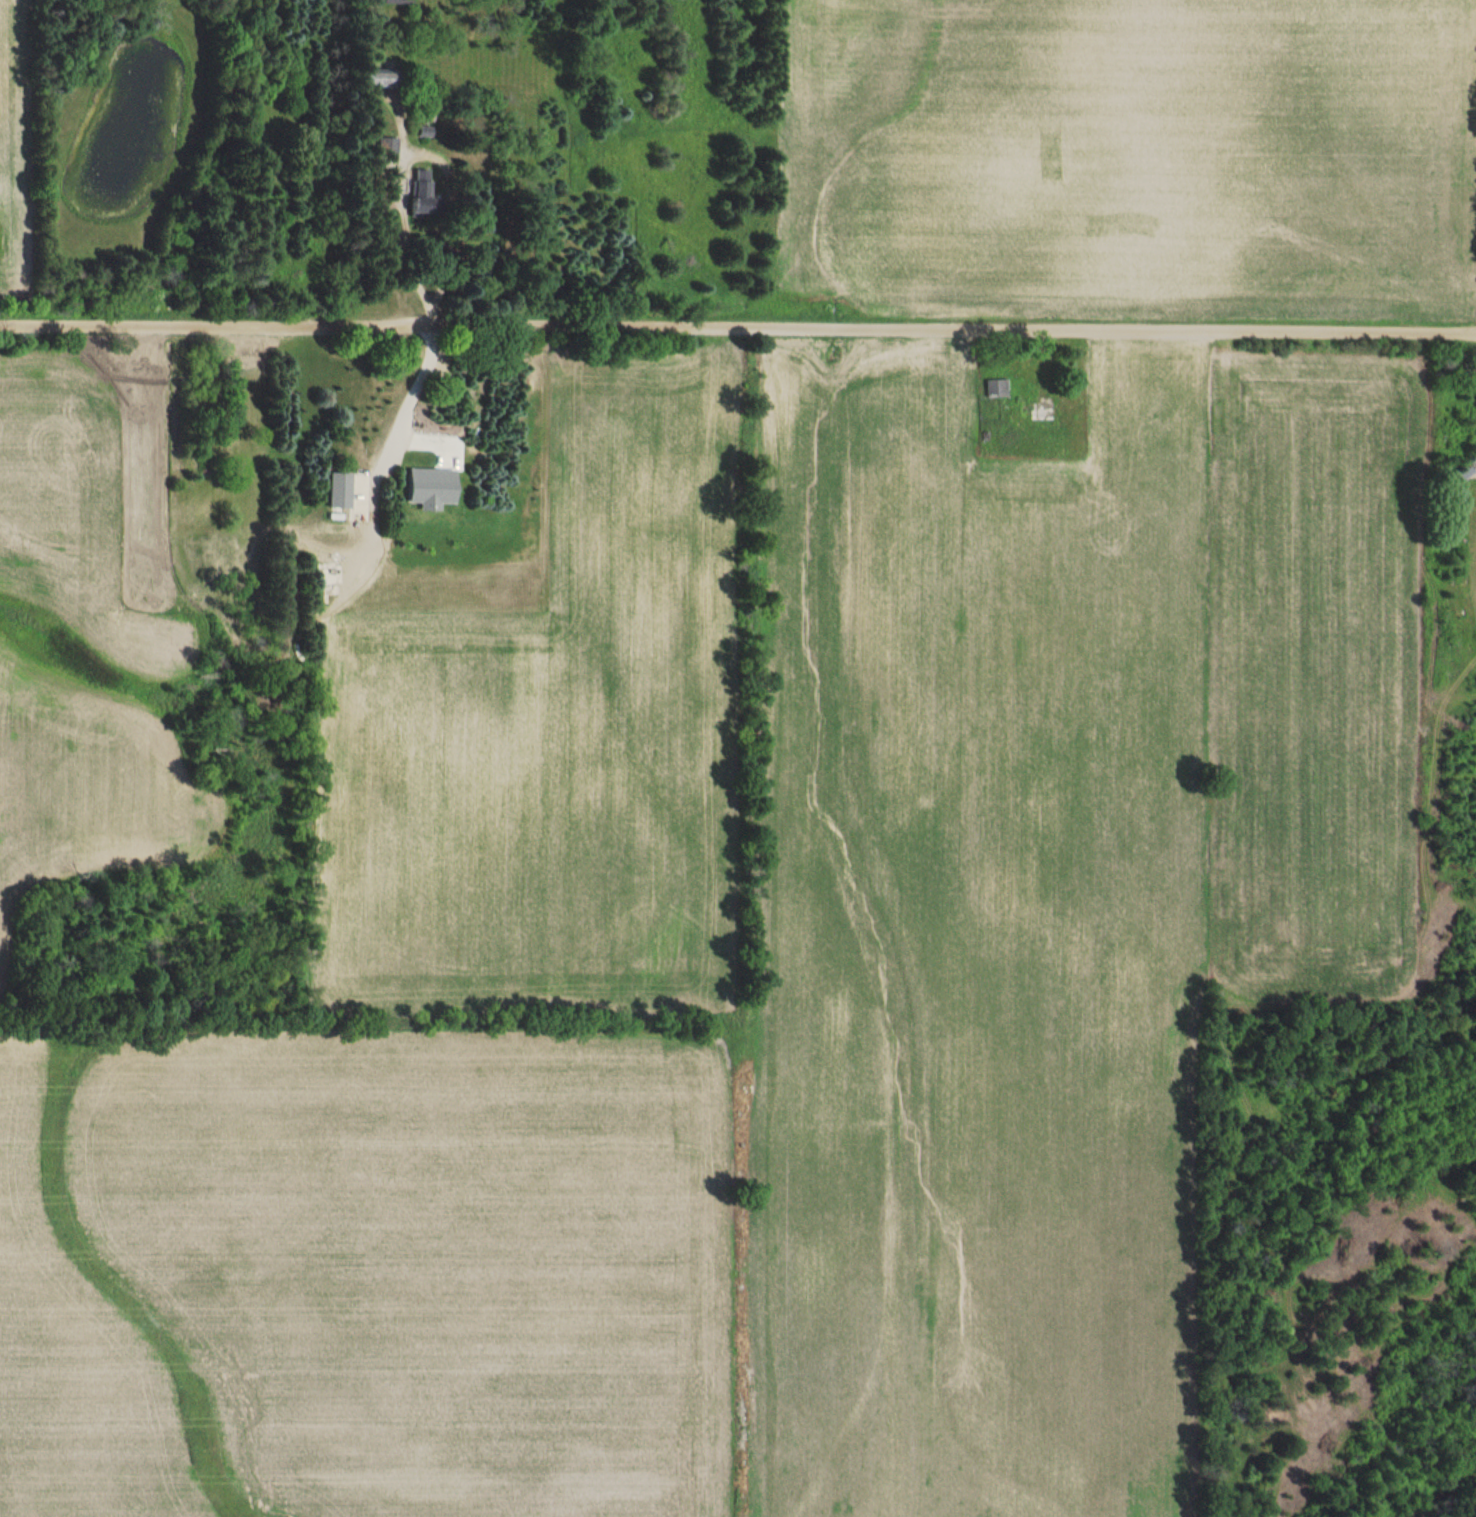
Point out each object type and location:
building: (398, 2)
building: (379, 78)
building: (425, 131)
building: (387, 153)
building: (421, 191)
road: (408, 241)
road: (738, 328)
building: (996, 389)
road: (419, 400)
building: (1043, 412)

